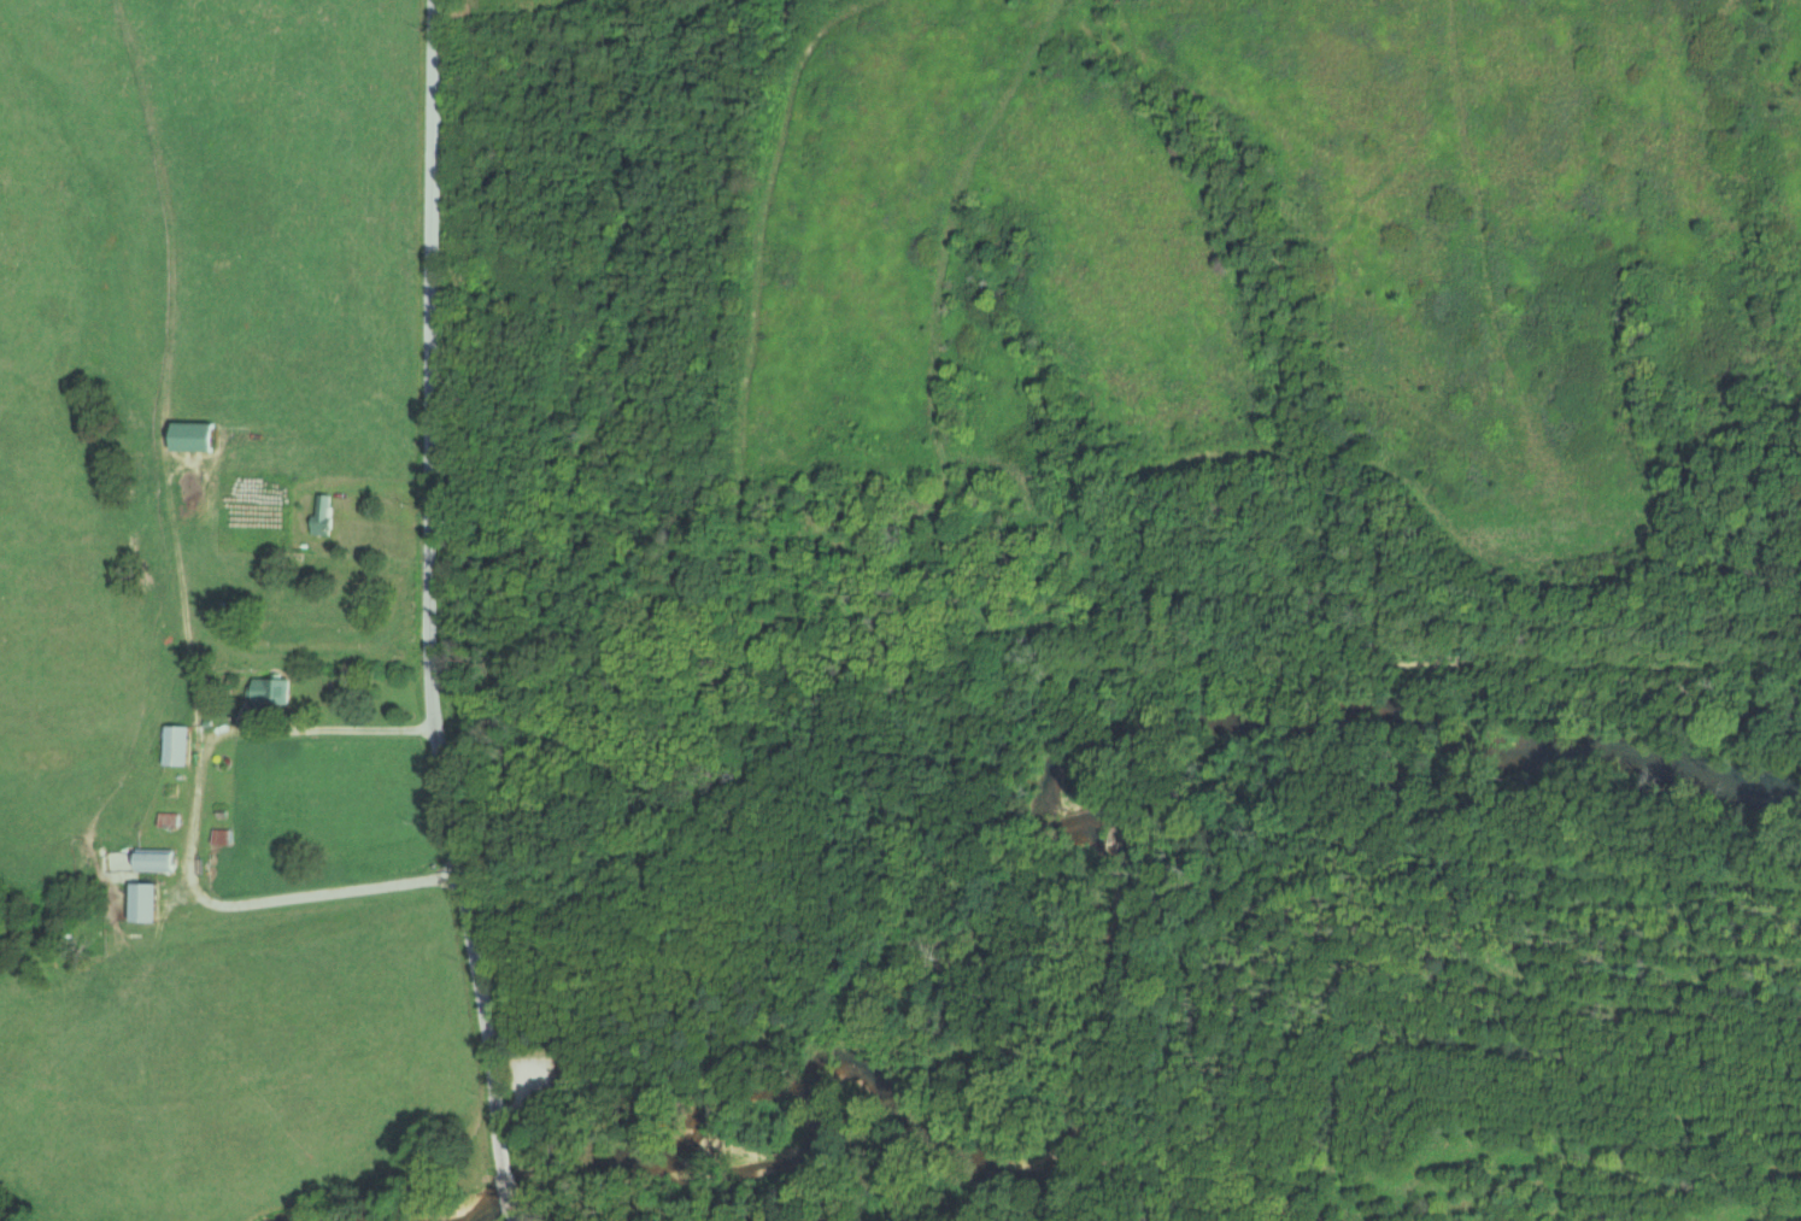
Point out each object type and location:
building: (199, 435)
building: (328, 513)
road: (426, 615)
building: (270, 693)
road: (313, 730)
building: (180, 744)
road: (189, 816)
building: (160, 861)
building: (148, 900)

